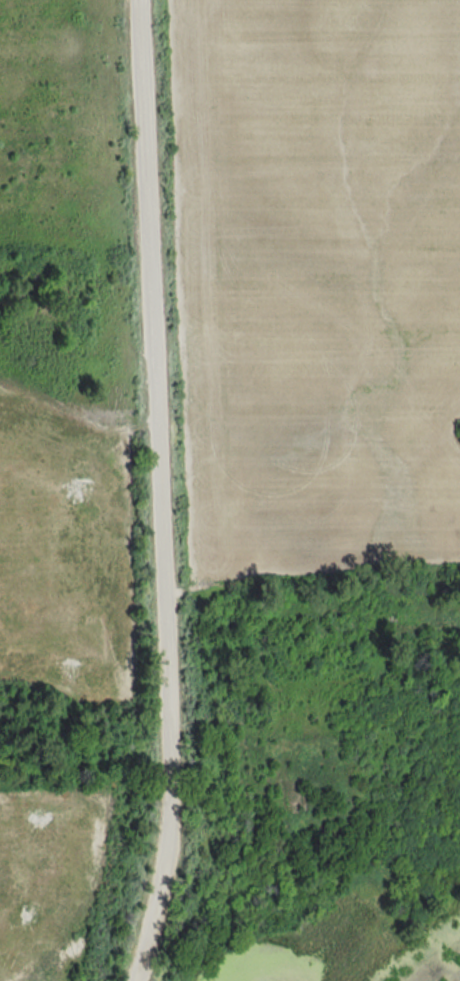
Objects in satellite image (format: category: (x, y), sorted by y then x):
road: (167, 492)
crop: (65, 544)
crop: (41, 872)

